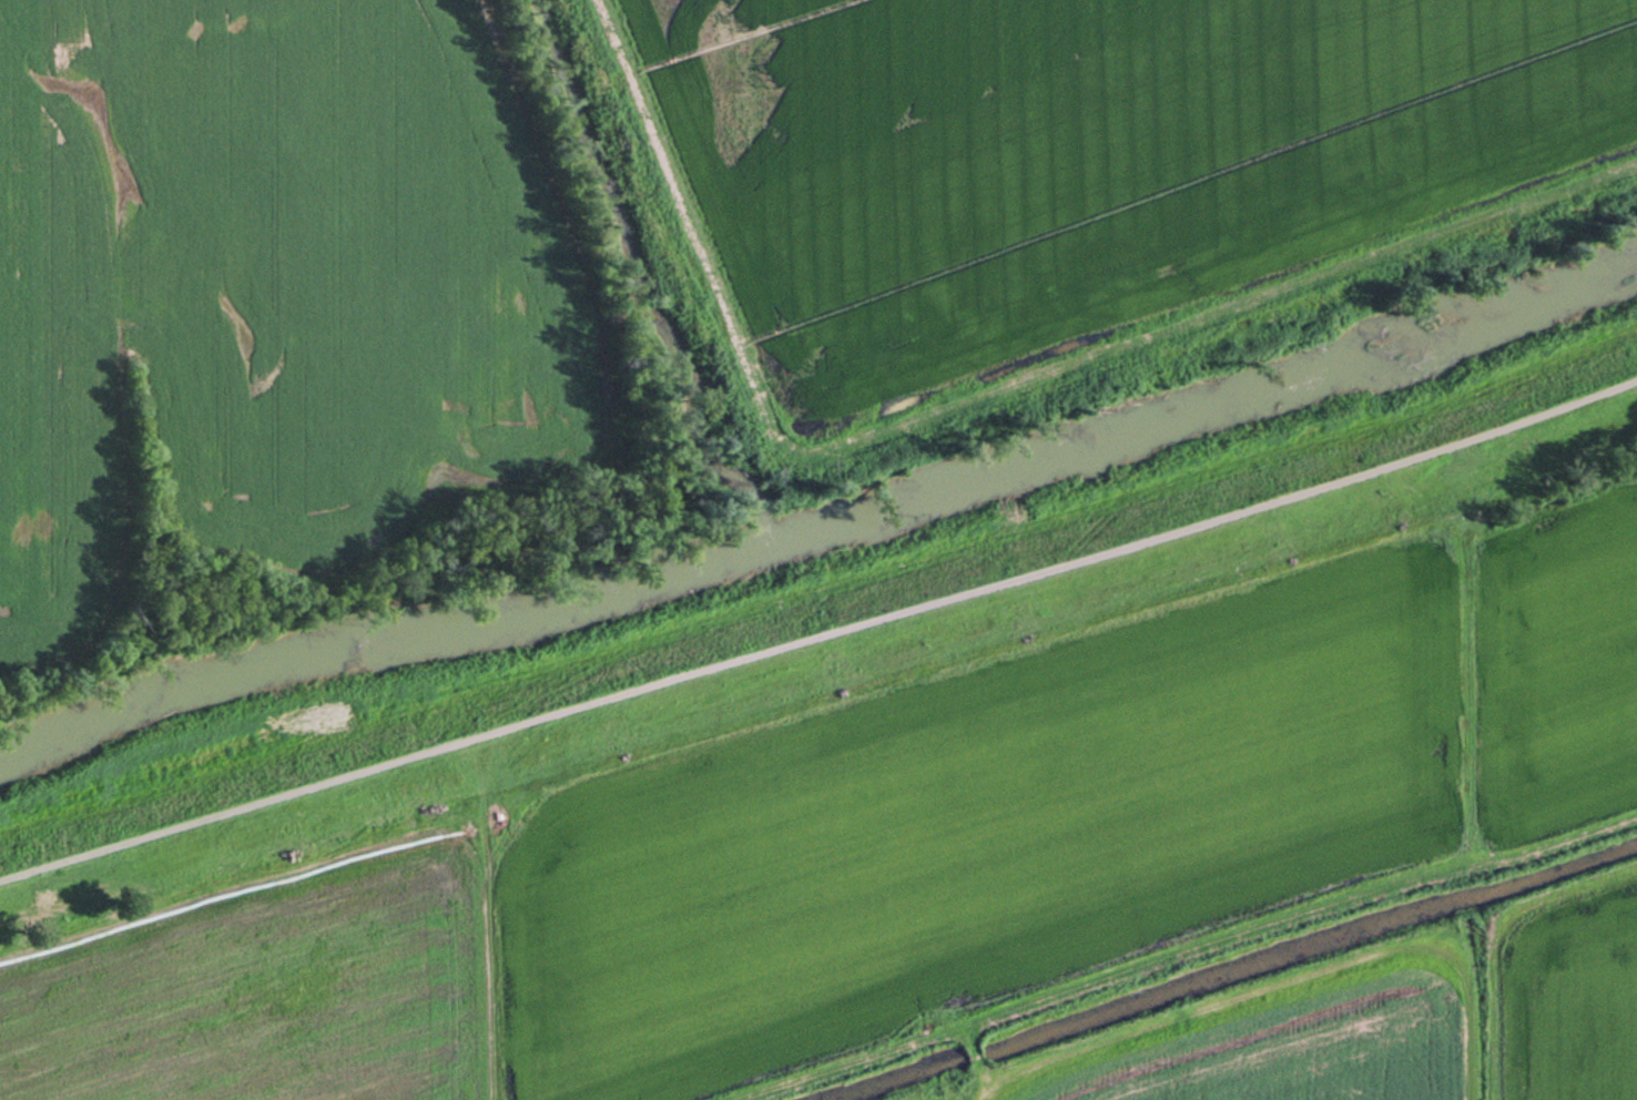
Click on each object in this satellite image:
crop: (274, 293)
river: (828, 528)
road: (821, 636)

